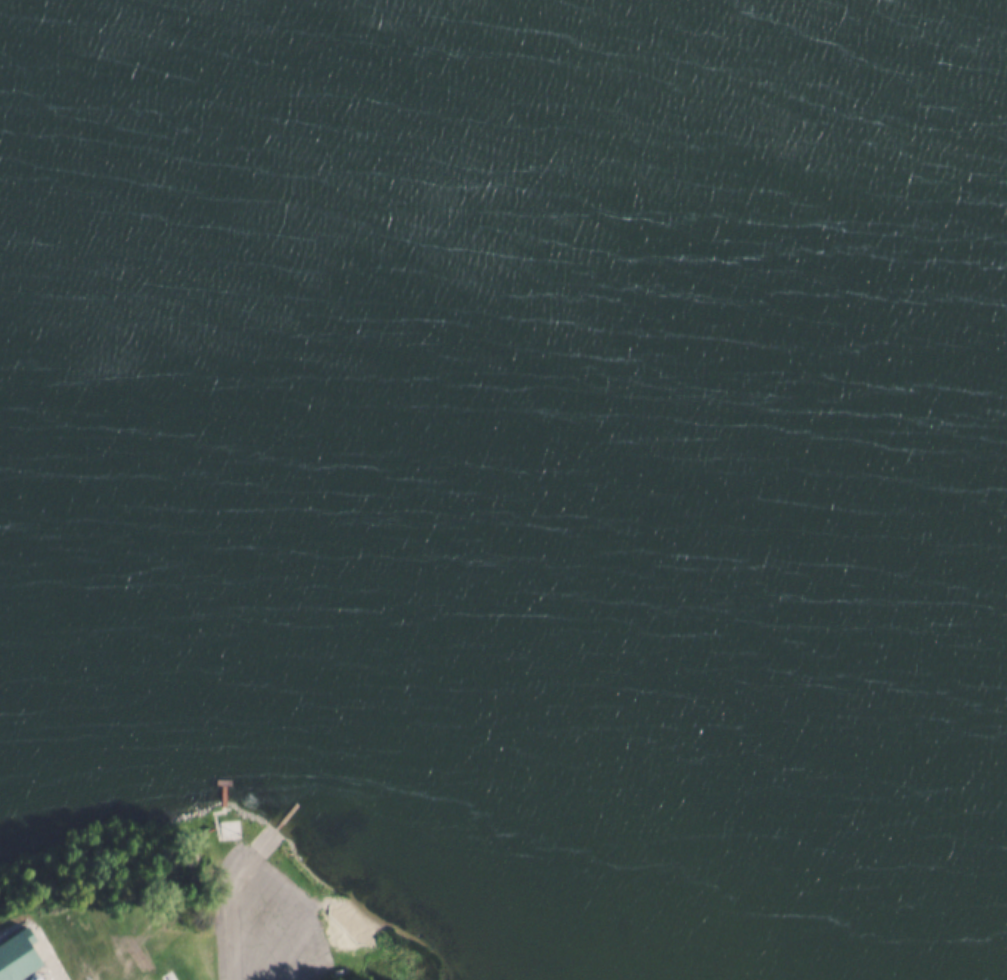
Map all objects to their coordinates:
pier: (222, 778)
pier: (222, 785)
pier: (288, 811)
road: (241, 896)
building: (80, 922)
building: (14, 953)
building: (48, 970)
building: (150, 975)

